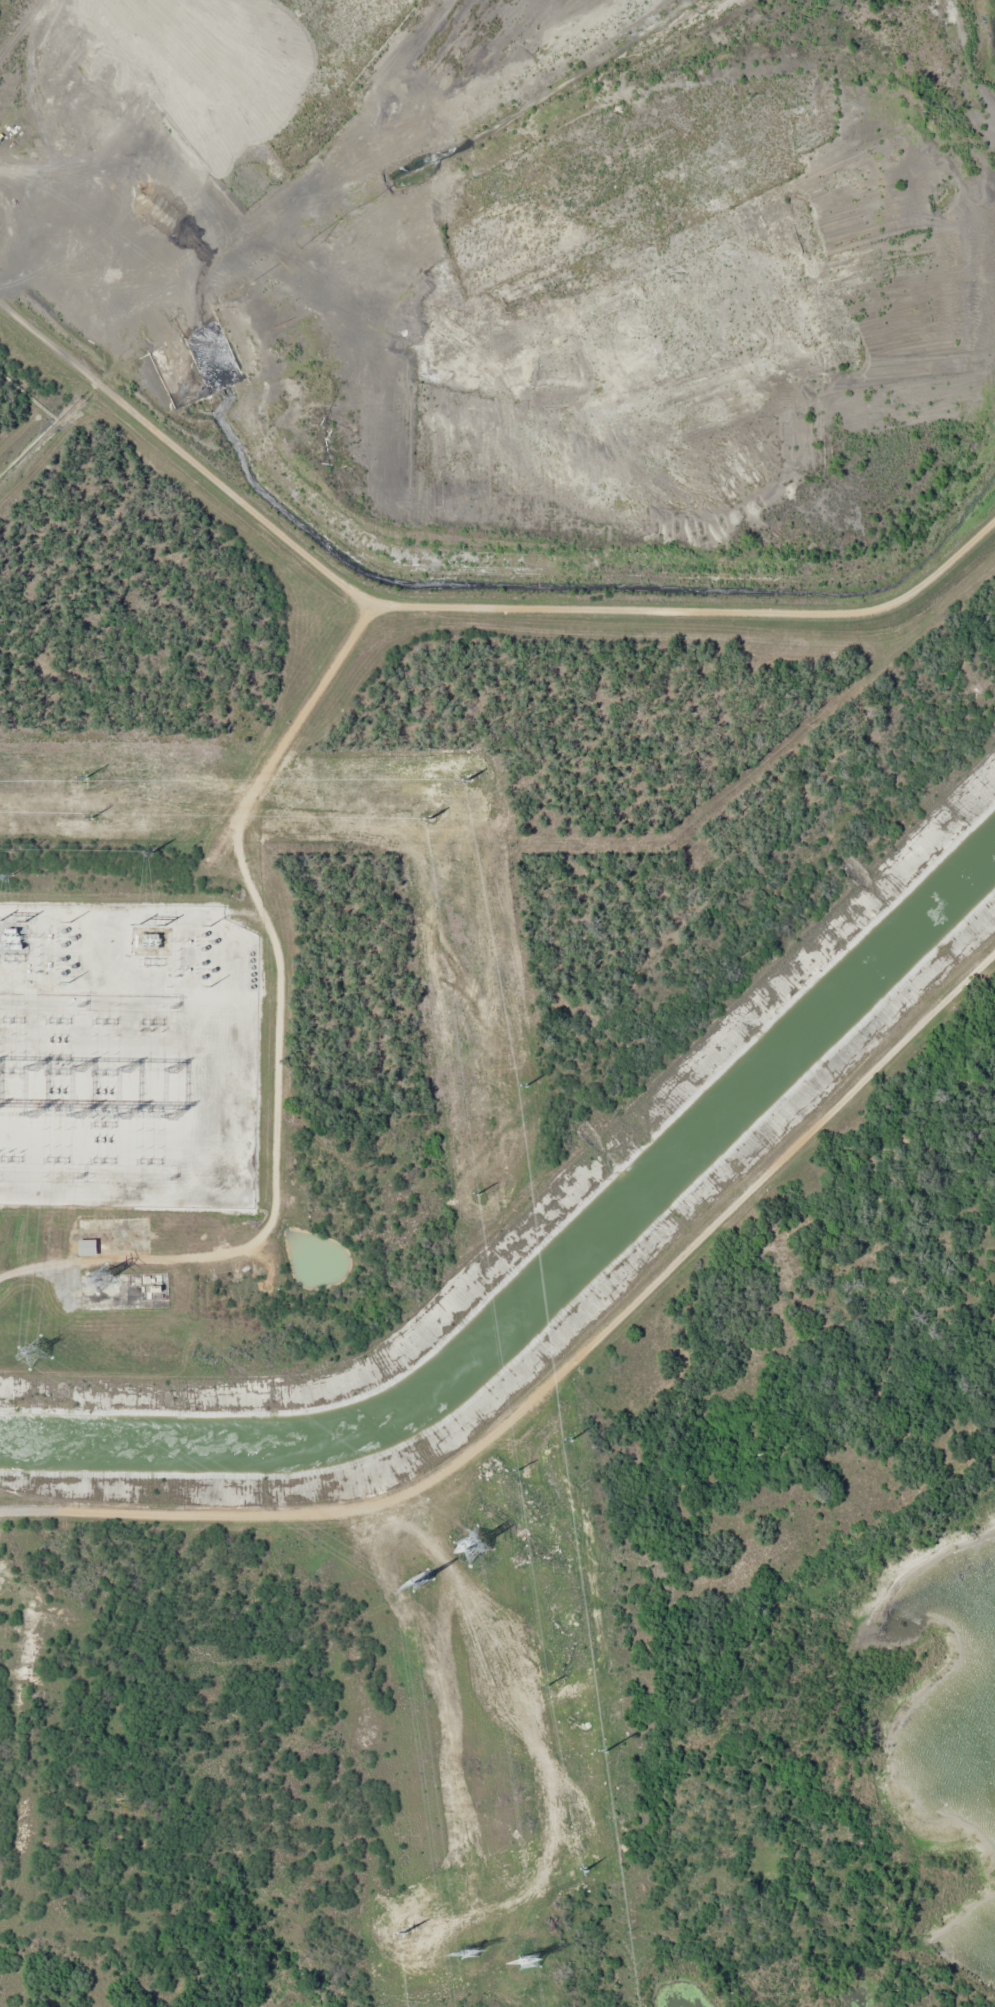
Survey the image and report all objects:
road: (183, 451)
power plant: (452, 627)
road: (293, 723)
power tower: (120, 814)
power tower: (483, 822)
power substation: (125, 1055)
power tower: (518, 1097)
building: (87, 1248)
power tower: (100, 1279)
power tower: (32, 1350)
road: (556, 1376)
power tower: (567, 1460)
power tower: (472, 1545)
power tower: (418, 1581)
power plant: (544, 1616)
power tower: (599, 1698)
power tower: (468, 1953)
power tower: (528, 1960)

